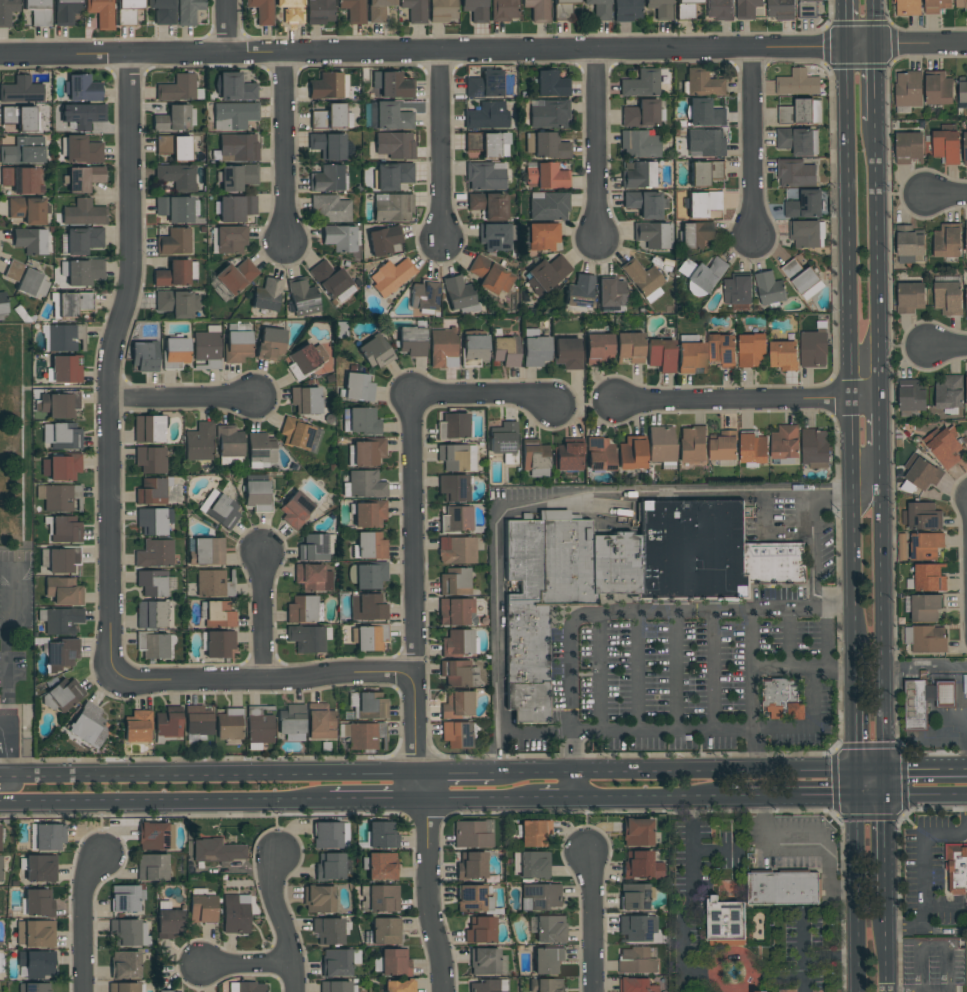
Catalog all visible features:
building: (961, 3)
building: (936, 5)
building: (908, 7)
building: (660, 8)
building: (747, 8)
building: (807, 8)
building: (563, 9)
building: (599, 9)
building: (685, 9)
building: (780, 9)
building: (291, 10)
building: (353, 10)
building: (378, 10)
building: (415, 10)
building: (442, 10)
building: (475, 10)
building: (503, 10)
building: (538, 10)
building: (627, 10)
building: (719, 10)
building: (7, 11)
building: (38, 11)
building: (66, 11)
building: (127, 11)
building: (162, 11)
building: (188, 11)
building: (262, 11)
building: (319, 11)
building: (101, 13)
road: (845, 23)
road: (874, 23)
road: (857, 25)
road: (225, 29)
road: (224, 34)
road: (483, 53)
building: (551, 83)
building: (640, 83)
building: (702, 83)
building: (798, 83)
road: (877, 83)
building: (484, 84)
building: (391, 85)
building: (327, 86)
building: (82, 88)
building: (177, 88)
building: (234, 88)
building: (938, 88)
building: (908, 89)
building: (962, 89)
building: (21, 90)
building: (800, 112)
building: (548, 113)
building: (705, 113)
building: (640, 114)
building: (82, 115)
building: (234, 115)
building: (487, 115)
building: (388, 116)
building: (21, 117)
building: (331, 117)
building: (175, 119)
building: (797, 140)
building: (488, 143)
building: (639, 143)
building: (706, 143)
road: (753, 144)
building: (946, 144)
building: (328, 145)
building: (395, 145)
building: (546, 145)
road: (596, 146)
building: (174, 147)
building: (238, 147)
building: (909, 147)
building: (965, 147)
road: (442, 149)
building: (82, 150)
building: (23, 151)
road: (285, 152)
building: (705, 172)
building: (795, 173)
building: (393, 175)
building: (485, 175)
building: (545, 175)
building: (639, 175)
building: (176, 176)
building: (238, 177)
building: (83, 178)
building: (22, 179)
building: (326, 179)
road: (948, 196)
building: (644, 203)
building: (702, 203)
building: (806, 204)
building: (489, 205)
building: (548, 205)
building: (392, 207)
building: (236, 208)
building: (175, 209)
building: (330, 209)
building: (27, 210)
building: (84, 213)
building: (807, 233)
building: (653, 234)
building: (695, 234)
building: (496, 236)
building: (540, 236)
building: (966, 236)
building: (339, 238)
building: (231, 239)
building: (81, 240)
building: (383, 240)
building: (947, 240)
building: (30, 241)
building: (174, 242)
building: (909, 243)
road: (879, 260)
building: (81, 272)
building: (702, 273)
building: (176, 274)
building: (546, 274)
building: (490, 275)
building: (235, 276)
building: (391, 276)
building: (802, 278)
building: (643, 279)
building: (27, 281)
building: (332, 281)
building: (769, 288)
building: (737, 290)
building: (458, 293)
building: (579, 293)
building: (611, 294)
building: (267, 295)
building: (424, 295)
building: (947, 295)
building: (910, 297)
building: (303, 299)
building: (2, 303)
building: (177, 303)
building: (966, 303)
building: (70, 304)
building: (61, 338)
building: (412, 341)
building: (270, 343)
road: (947, 345)
building: (237, 346)
road: (848, 346)
building: (443, 347)
building: (629, 347)
building: (722, 347)
building: (474, 348)
building: (535, 348)
building: (813, 348)
building: (207, 349)
building: (504, 349)
building: (598, 349)
building: (751, 349)
building: (175, 352)
building: (374, 352)
building: (567, 353)
building: (661, 354)
building: (690, 355)
building: (784, 355)
building: (144, 356)
building: (306, 359)
road: (112, 362)
building: (66, 369)
building: (357, 387)
road: (27, 388)
building: (966, 389)
building: (949, 394)
building: (911, 397)
road: (482, 398)
road: (182, 399)
building: (306, 400)
road: (750, 400)
building: (60, 404)
building: (360, 420)
road: (880, 422)
building: (453, 426)
building: (148, 429)
building: (300, 435)
building: (62, 436)
building: (228, 441)
building: (503, 441)
building: (198, 442)
building: (785, 443)
building: (692, 444)
road: (22, 445)
building: (661, 446)
building: (944, 446)
building: (724, 447)
building: (753, 448)
building: (815, 448)
building: (260, 450)
building: (365, 453)
building: (632, 453)
building: (569, 454)
building: (599, 454)
building: (452, 457)
building: (534, 458)
building: (150, 460)
building: (230, 461)
building: (60, 467)
road: (873, 471)
building: (922, 472)
building: (364, 485)
building: (453, 488)
road: (585, 490)
road: (831, 490)
building: (151, 492)
building: (257, 495)
building: (62, 498)
building: (219, 509)
building: (295, 509)
building: (368, 514)
building: (920, 516)
road: (764, 517)
building: (456, 519)
building: (153, 521)
building: (65, 530)
building: (369, 546)
building: (925, 546)
building: (315, 548)
building: (457, 550)
building: (208, 551)
building: (155, 554)
building: (62, 560)
building: (627, 574)
building: (370, 576)
building: (313, 577)
building: (927, 578)
building: (454, 582)
building: (154, 583)
building: (213, 584)
building: (63, 591)
building: (368, 607)
building: (923, 607)
building: (304, 609)
road: (884, 609)
building: (455, 611)
road: (636, 613)
building: (153, 614)
building: (219, 615)
road: (263, 616)
building: (62, 620)
parking lot: (14, 621)
building: (368, 637)
building: (308, 638)
road: (5, 639)
road: (789, 639)
building: (926, 639)
building: (457, 643)
building: (219, 644)
building: (155, 646)
building: (62, 653)
road: (926, 664)
road: (782, 667)
road: (675, 671)
road: (713, 671)
road: (600, 672)
road: (637, 672)
building: (456, 673)
road: (260, 679)
road: (752, 692)
road: (414, 696)
building: (60, 698)
building: (782, 698)
building: (457, 704)
building: (371, 706)
building: (915, 707)
building: (291, 720)
building: (197, 721)
building: (320, 721)
road: (856, 722)
building: (167, 724)
building: (260, 724)
building: (88, 726)
building: (229, 726)
building: (137, 727)
road: (758, 729)
parking lot: (9, 734)
building: (456, 734)
building: (360, 736)
road: (3, 743)
road: (7, 749)
road: (912, 772)
road: (675, 773)
traffic signals: (858, 773)
traffic signals: (889, 773)
road: (456, 774)
road: (209, 777)
road: (8, 785)
road: (571, 786)
road: (928, 797)
road: (807, 798)
traffic signals: (859, 798)
traffic signals: (890, 798)
road: (647, 799)
road: (474, 800)
road: (549, 800)
road: (375, 801)
road: (164, 803)
building: (0, 831)
building: (534, 832)
building: (636, 832)
building: (472, 833)
building: (330, 835)
building: (382, 835)
building: (156, 836)
building: (49, 837)
road: (815, 843)
road: (890, 844)
building: (217, 851)
road: (717, 852)
building: (531, 864)
building: (640, 865)
building: (330, 866)
building: (380, 866)
building: (471, 866)
building: (152, 867)
building: (41, 868)
building: (0, 870)
building: (956, 871)
road: (924, 874)
road: (687, 887)
building: (783, 887)
road: (859, 894)
building: (539, 896)
building: (635, 896)
building: (124, 898)
building: (383, 898)
building: (318, 899)
building: (474, 899)
building: (38, 902)
building: (202, 909)
building: (236, 914)
building: (725, 922)
building: (170, 923)
road: (591, 923)
road: (83, 924)
road: (281, 924)
building: (636, 927)
building: (550, 929)
building: (480, 930)
building: (328, 931)
building: (385, 931)
building: (129, 932)
building: (35, 934)
road: (802, 937)
road: (890, 954)
building: (548, 960)
building: (484, 961)
building: (636, 961)
road: (815, 961)
building: (392, 962)
building: (35, 963)
building: (336, 963)
building: (125, 965)
road: (244, 965)
building: (489, 985)
building: (546, 985)
building: (636, 985)
building: (336, 986)
building: (399, 986)
building: (33, 987)
building: (123, 987)
building: (247, 987)
building: (173, 991)
building: (758, 991)

